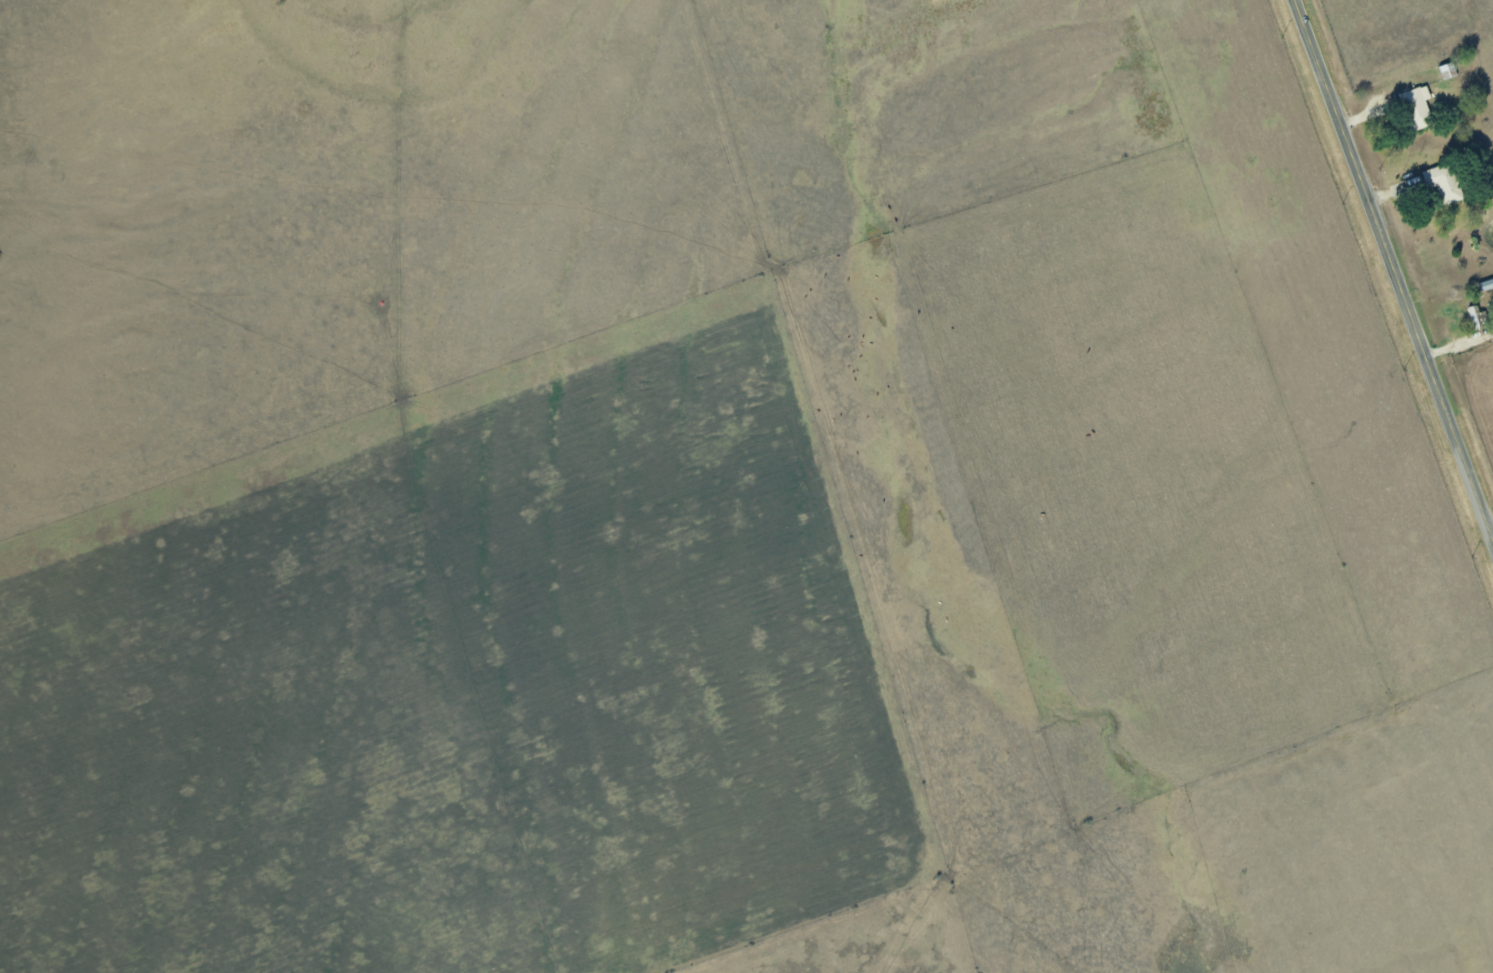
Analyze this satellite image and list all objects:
building: (1416, 106)
building: (1443, 183)
road: (1395, 266)
building: (1486, 284)

